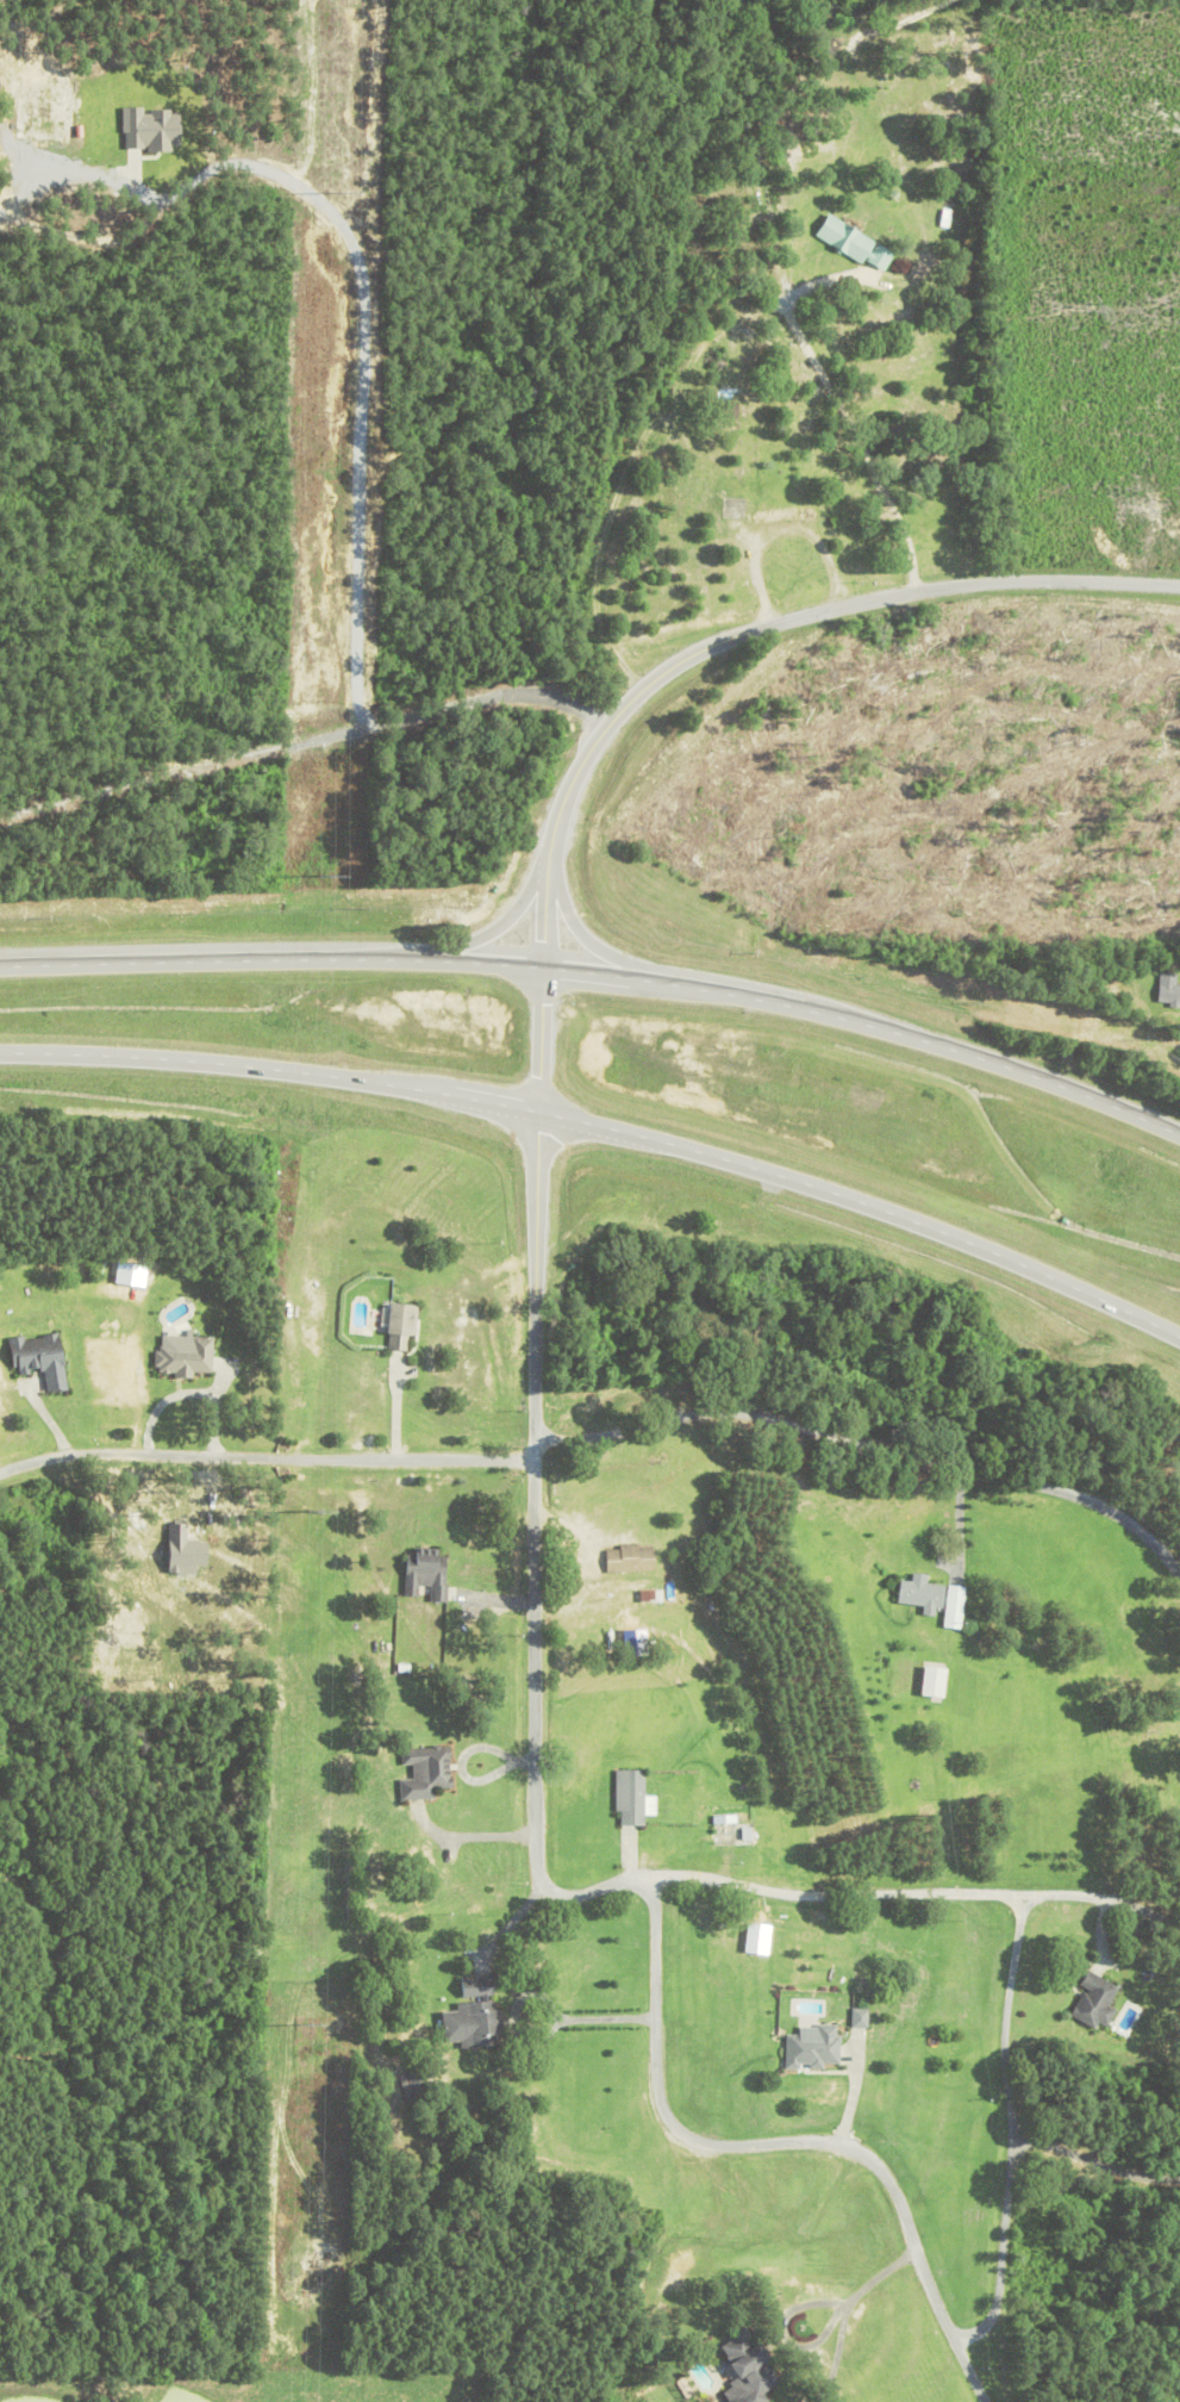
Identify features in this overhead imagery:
building: (855, 244)
road: (711, 342)
building: (729, 413)
road: (598, 715)
road: (552, 838)
road: (601, 977)
building: (1169, 990)
road: (605, 1128)
building: (401, 1326)
building: (183, 1356)
building: (40, 1359)
road: (187, 1393)
road: (874, 1439)
road: (273, 1456)
road: (549, 1507)
building: (630, 1560)
building: (426, 1574)
building: (920, 1593)
building: (425, 1772)
building: (630, 1798)
road: (601, 1885)
road: (881, 1896)
road: (1145, 1912)
building: (1094, 2002)
building: (480, 2012)
road: (604, 2020)
building: (814, 2048)
building: (413, 2085)
building: (400, 2124)
road: (1012, 2134)
road: (736, 2148)
road: (823, 2335)
road: (966, 2369)
building: (749, 2370)

